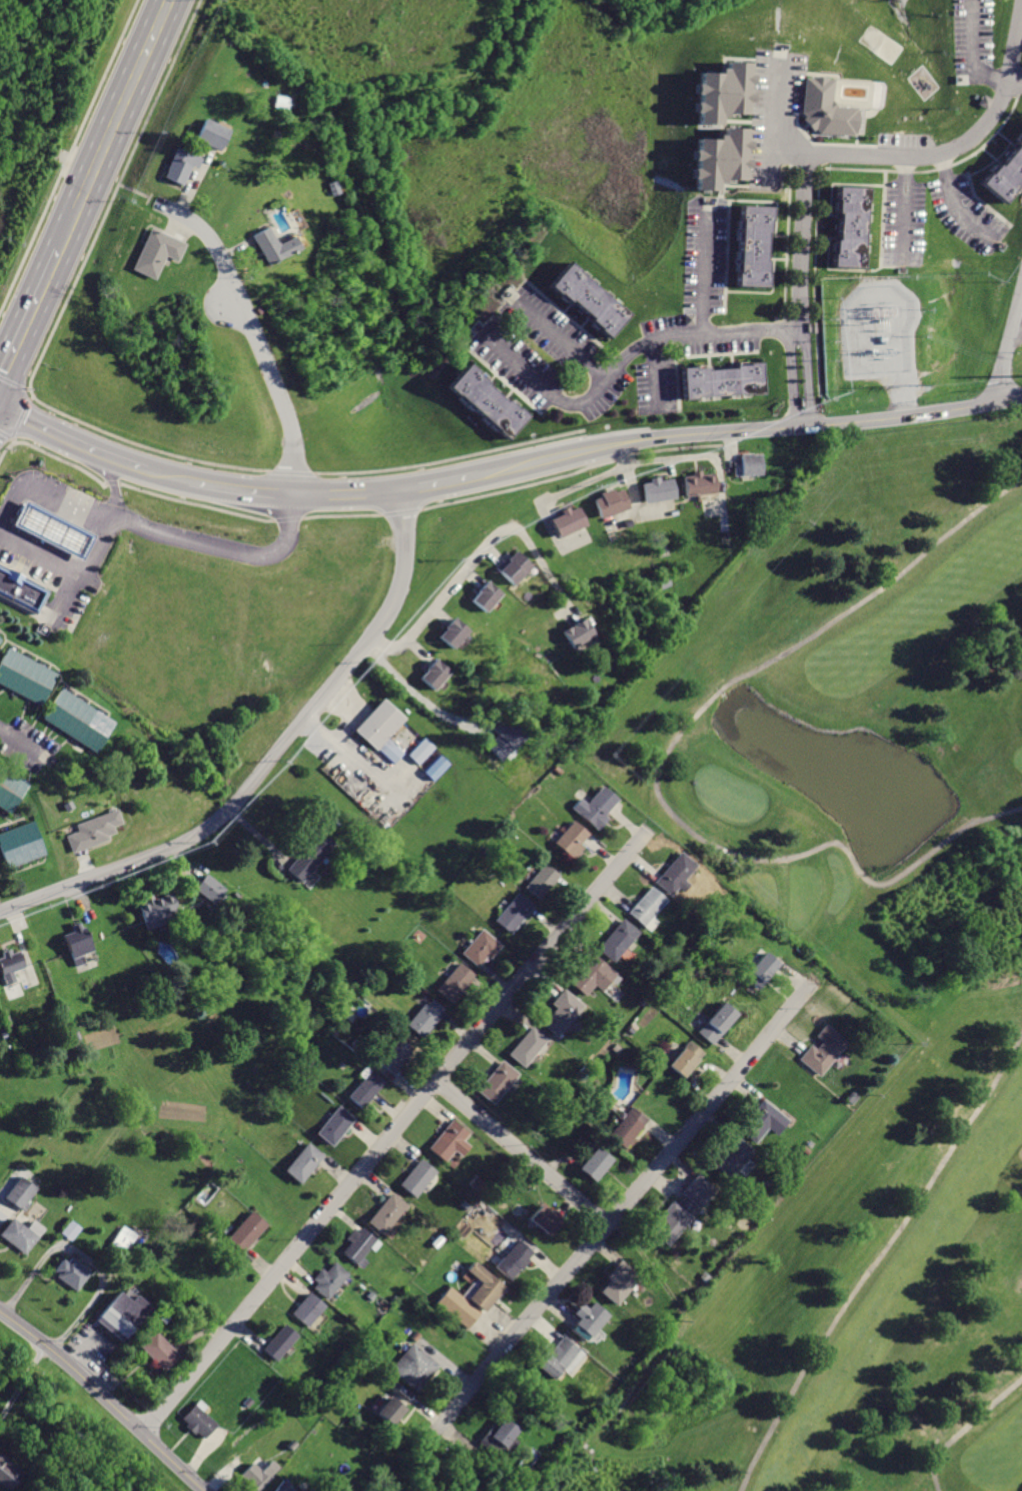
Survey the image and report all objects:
park: (877, 43)
road: (982, 50)
road: (1016, 81)
building: (721, 96)
building: (821, 108)
road: (121, 115)
road: (771, 121)
building: (212, 133)
road: (788, 140)
building: (1020, 140)
road: (952, 149)
road: (70, 153)
building: (718, 159)
building: (180, 165)
building: (1006, 177)
road: (136, 189)
road: (113, 197)
road: (151, 197)
road: (957, 201)
road: (906, 206)
building: (850, 226)
building: (271, 245)
building: (750, 245)
road: (802, 245)
building: (157, 251)
road: (703, 273)
building: (587, 297)
road: (35, 304)
road: (255, 329)
road: (1018, 329)
road: (694, 333)
power substation: (878, 336)
road: (557, 338)
road: (1009, 346)
park: (1013, 361)
road: (792, 376)
road: (806, 376)
road: (654, 380)
building: (720, 380)
road: (12, 382)
road: (540, 384)
road: (27, 387)
road: (31, 397)
building: (487, 400)
road: (19, 417)
road: (803, 419)
road: (47, 427)
road: (748, 427)
road: (5, 434)
road: (12, 439)
road: (103, 452)
road: (623, 454)
road: (126, 462)
building: (750, 464)
road: (624, 468)
road: (164, 473)
road: (437, 482)
building: (696, 482)
road: (226, 487)
building: (657, 489)
road: (278, 492)
road: (344, 492)
road: (720, 498)
building: (609, 501)
road: (641, 503)
road: (632, 507)
road: (111, 517)
building: (567, 520)
building: (48, 530)
gas station: (48, 530)
road: (104, 530)
road: (198, 542)
road: (557, 543)
road: (541, 561)
building: (514, 568)
building: (20, 592)
road: (62, 596)
building: (485, 596)
road: (437, 605)
building: (576, 632)
building: (452, 633)
building: (0, 638)
building: (433, 674)
building: (23, 676)
road: (426, 704)
building: (77, 720)
building: (380, 730)
building: (505, 739)
road: (27, 745)
building: (420, 751)
road: (270, 761)
road: (661, 762)
building: (10, 789)
building: (593, 807)
building: (92, 831)
building: (568, 837)
building: (18, 845)
building: (310, 853)
building: (673, 874)
building: (541, 881)
building: (209, 887)
building: (644, 907)
building: (156, 910)
building: (513, 912)
building: (617, 940)
building: (76, 942)
building: (480, 948)
building: (8, 965)
park: (855, 967)
building: (760, 972)
building: (589, 975)
building: (455, 982)
building: (562, 1013)
building: (426, 1017)
building: (716, 1022)
building: (527, 1046)
building: (822, 1049)
building: (397, 1055)
building: (684, 1058)
building: (496, 1081)
building: (365, 1087)
building: (761, 1119)
building: (335, 1125)
building: (625, 1126)
road: (397, 1128)
building: (450, 1141)
road: (523, 1152)
building: (733, 1155)
building: (305, 1162)
building: (593, 1163)
building: (418, 1177)
building: (17, 1192)
road: (627, 1201)
building: (679, 1210)
building: (387, 1214)
building: (544, 1221)
building: (69, 1230)
building: (246, 1230)
building: (16, 1237)
building: (122, 1237)
building: (359, 1245)
building: (515, 1259)
road: (879, 1259)
building: (68, 1273)
building: (329, 1279)
building: (620, 1281)
building: (485, 1289)
building: (459, 1308)
building: (305, 1310)
building: (119, 1315)
building: (589, 1319)
building: (277, 1343)
building: (156, 1351)
building: (561, 1359)
building: (414, 1367)
road: (22, 1381)
road: (104, 1399)
building: (388, 1412)
building: (196, 1422)
road: (965, 1429)
building: (496, 1436)
building: (8, 1474)
building: (255, 1477)
building: (280, 1486)

